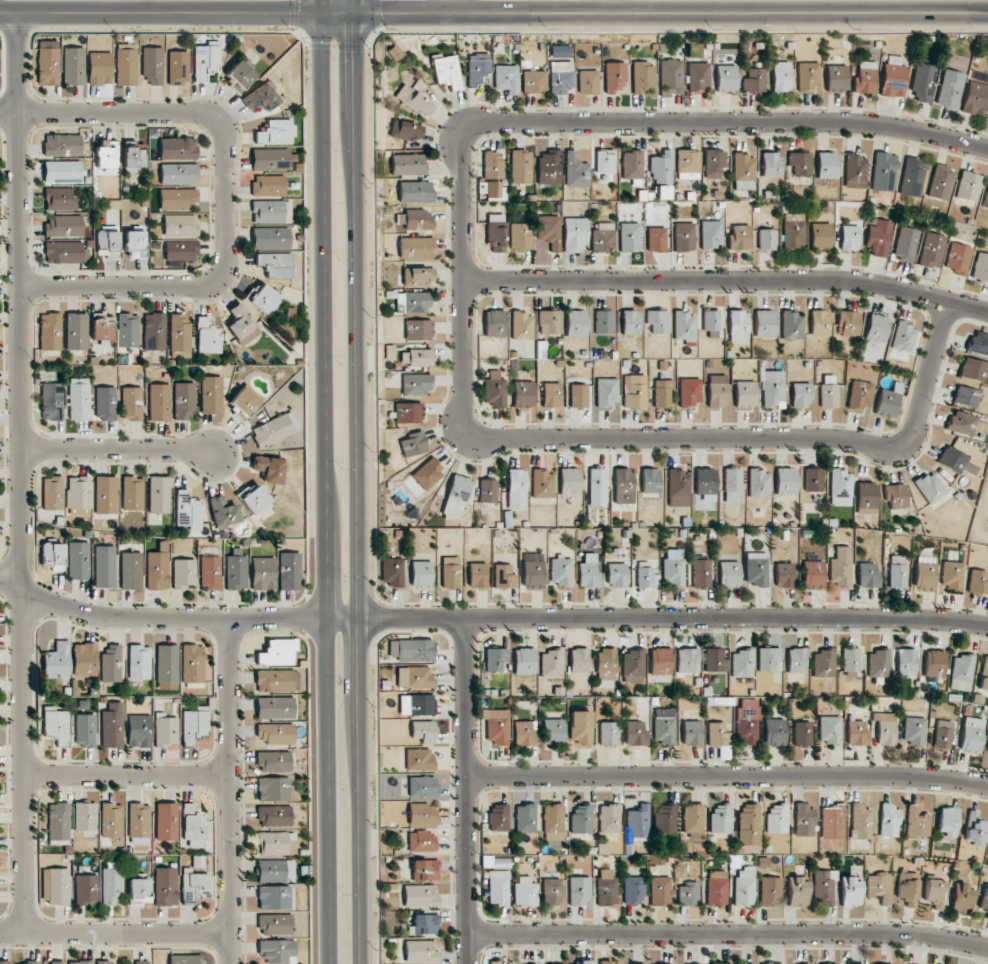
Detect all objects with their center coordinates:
road: (452, 7)
road: (613, 7)
traffic signals: (316, 15)
traffic signals: (356, 15)
road: (494, 15)
building: (204, 60)
building: (47, 63)
building: (126, 64)
building: (152, 65)
building: (73, 66)
building: (177, 67)
building: (477, 67)
building: (100, 68)
building: (447, 72)
building: (240, 74)
building: (781, 76)
building: (560, 77)
building: (614, 77)
building: (670, 77)
building: (807, 77)
building: (893, 77)
building: (506, 78)
building: (643, 78)
building: (698, 78)
building: (726, 78)
building: (836, 78)
building: (865, 78)
building: (532, 80)
building: (754, 81)
building: (588, 82)
building: (922, 82)
building: (949, 89)
building: (261, 97)
building: (975, 98)
building: (415, 101)
road: (106, 114)
road: (722, 126)
building: (406, 130)
building: (274, 132)
building: (62, 145)
building: (178, 148)
building: (106, 155)
building: (269, 159)
building: (134, 160)
building: (713, 163)
building: (800, 163)
building: (408, 164)
building: (688, 164)
building: (771, 164)
building: (493, 165)
building: (631, 165)
building: (827, 165)
building: (520, 166)
building: (604, 166)
building: (549, 167)
building: (743, 167)
building: (661, 168)
building: (575, 171)
building: (855, 171)
building: (62, 172)
building: (884, 172)
building: (178, 174)
building: (912, 177)
building: (940, 182)
building: (268, 185)
building: (968, 186)
building: (495, 190)
building: (415, 192)
building: (662, 192)
building: (985, 197)
building: (60, 198)
building: (177, 198)
building: (268, 211)
building: (418, 219)
building: (180, 225)
building: (63, 226)
building: (549, 231)
building: (794, 231)
building: (495, 233)
building: (575, 234)
building: (711, 234)
building: (821, 236)
building: (520, 237)
building: (629, 237)
building: (684, 237)
building: (739, 237)
building: (270, 238)
building: (849, 238)
building: (879, 238)
building: (601, 239)
building: (656, 239)
building: (766, 239)
building: (106, 241)
building: (906, 244)
building: (136, 245)
building: (416, 247)
building: (181, 250)
building: (932, 250)
building: (65, 252)
building: (958, 258)
building: (276, 265)
building: (980, 267)
building: (418, 276)
road: (727, 280)
road: (200, 285)
road: (462, 285)
building: (263, 298)
building: (412, 302)
building: (658, 321)
building: (549, 322)
building: (603, 322)
building: (630, 322)
building: (819, 322)
building: (494, 323)
building: (576, 323)
building: (711, 323)
building: (764, 323)
building: (242, 324)
building: (792, 325)
building: (521, 326)
building: (684, 326)
building: (738, 326)
building: (102, 327)
building: (876, 328)
building: (127, 330)
building: (418, 330)
building: (50, 331)
building: (76, 331)
building: (153, 331)
building: (179, 336)
building: (207, 336)
building: (978, 344)
building: (416, 357)
building: (973, 369)
building: (415, 384)
building: (773, 388)
building: (495, 389)
building: (717, 390)
building: (634, 391)
building: (690, 391)
building: (828, 391)
building: (606, 393)
building: (662, 393)
building: (523, 394)
building: (745, 394)
building: (211, 395)
building: (551, 395)
building: (800, 395)
building: (859, 395)
building: (578, 396)
building: (966, 396)
building: (79, 398)
building: (52, 401)
building: (184, 401)
building: (159, 402)
building: (244, 402)
building: (105, 403)
building: (886, 403)
building: (132, 404)
building: (408, 412)
building: (966, 423)
building: (274, 429)
road: (761, 438)
building: (413, 444)
road: (118, 449)
building: (955, 461)
building: (269, 469)
road: (20, 472)
building: (427, 474)
building: (813, 479)
road: (321, 481)
road: (362, 481)
building: (569, 481)
building: (785, 481)
building: (758, 483)
building: (542, 484)
building: (623, 485)
building: (732, 485)
building: (597, 487)
building: (840, 487)
building: (930, 487)
building: (678, 488)
building: (516, 489)
building: (705, 489)
building: (488, 491)
building: (52, 493)
building: (132, 493)
building: (105, 494)
building: (159, 494)
building: (78, 495)
building: (896, 496)
building: (456, 497)
building: (867, 498)
building: (254, 500)
building: (187, 509)
building: (223, 512)
building: (52, 556)
building: (78, 560)
building: (104, 566)
building: (840, 566)
building: (157, 568)
building: (673, 568)
building: (756, 569)
building: (131, 570)
building: (236, 570)
building: (289, 571)
building: (391, 571)
building: (532, 571)
building: (560, 571)
building: (588, 571)
building: (897, 571)
building: (450, 572)
building: (184, 573)
building: (210, 573)
building: (263, 573)
building: (700, 573)
building: (421, 574)
building: (644, 574)
building: (728, 574)
building: (813, 574)
building: (925, 574)
building: (477, 575)
building: (616, 575)
building: (784, 575)
building: (867, 575)
building: (951, 575)
building: (504, 576)
building: (978, 582)
road: (179, 618)
road: (676, 618)
building: (412, 650)
building: (277, 652)
building: (84, 659)
building: (495, 659)
building: (768, 659)
building: (57, 660)
building: (578, 660)
building: (687, 660)
building: (715, 660)
building: (796, 660)
building: (850, 660)
building: (524, 661)
building: (660, 661)
building: (139, 662)
building: (166, 663)
building: (550, 663)
building: (742, 663)
building: (823, 663)
building: (878, 663)
building: (906, 663)
building: (934, 663)
building: (111, 664)
building: (192, 664)
building: (605, 664)
building: (633, 666)
building: (961, 672)
building: (984, 674)
building: (414, 677)
building: (274, 681)
building: (417, 705)
building: (274, 708)
building: (747, 721)
building: (56, 724)
building: (193, 724)
building: (112, 725)
building: (496, 726)
building: (885, 728)
building: (580, 729)
building: (829, 729)
building: (84, 730)
building: (166, 730)
building: (663, 730)
building: (913, 730)
building: (139, 731)
building: (423, 731)
building: (553, 731)
building: (774, 731)
building: (691, 732)
building: (275, 733)
building: (524, 733)
building: (635, 733)
building: (856, 733)
building: (608, 734)
building: (802, 734)
building: (942, 734)
building: (971, 735)
building: (719, 739)
building: (987, 747)
building: (419, 759)
building: (274, 761)
road: (121, 775)
road: (728, 778)
building: (422, 787)
building: (273, 789)
road: (223, 791)
road: (469, 791)
building: (422, 814)
building: (85, 816)
building: (274, 816)
building: (498, 817)
building: (665, 817)
building: (525, 818)
building: (581, 818)
building: (609, 818)
building: (692, 818)
building: (721, 818)
building: (776, 818)
building: (111, 820)
building: (804, 820)
building: (888, 820)
building: (166, 821)
building: (553, 821)
building: (638, 821)
building: (861, 821)
building: (832, 822)
building: (946, 822)
building: (58, 823)
building: (916, 823)
building: (139, 824)
building: (748, 824)
building: (193, 827)
building: (975, 828)
building: (421, 841)
building: (274, 842)
building: (495, 862)
building: (425, 869)
building: (275, 870)
building: (111, 883)
building: (58, 886)
building: (165, 886)
building: (194, 886)
building: (879, 886)
building: (498, 887)
building: (744, 888)
building: (824, 888)
building: (907, 888)
building: (85, 889)
building: (139, 890)
building: (633, 890)
building: (525, 891)
building: (552, 891)
building: (580, 891)
building: (606, 891)
building: (660, 891)
building: (717, 891)
building: (770, 891)
building: (850, 891)
building: (797, 892)
building: (934, 893)
building: (688, 894)
building: (419, 895)
building: (273, 897)
building: (961, 899)
building: (984, 901)
building: (274, 924)
building: (425, 924)
road: (112, 931)
road: (729, 936)
building: (276, 951)
building: (421, 952)
building: (185, 959)
building: (4, 962)
building: (30, 962)
building: (54, 962)
building: (79, 962)
building: (105, 962)
building: (141, 962)
building: (494, 962)
building: (580, 963)
building: (609, 963)
building: (672, 963)
building: (762, 963)

